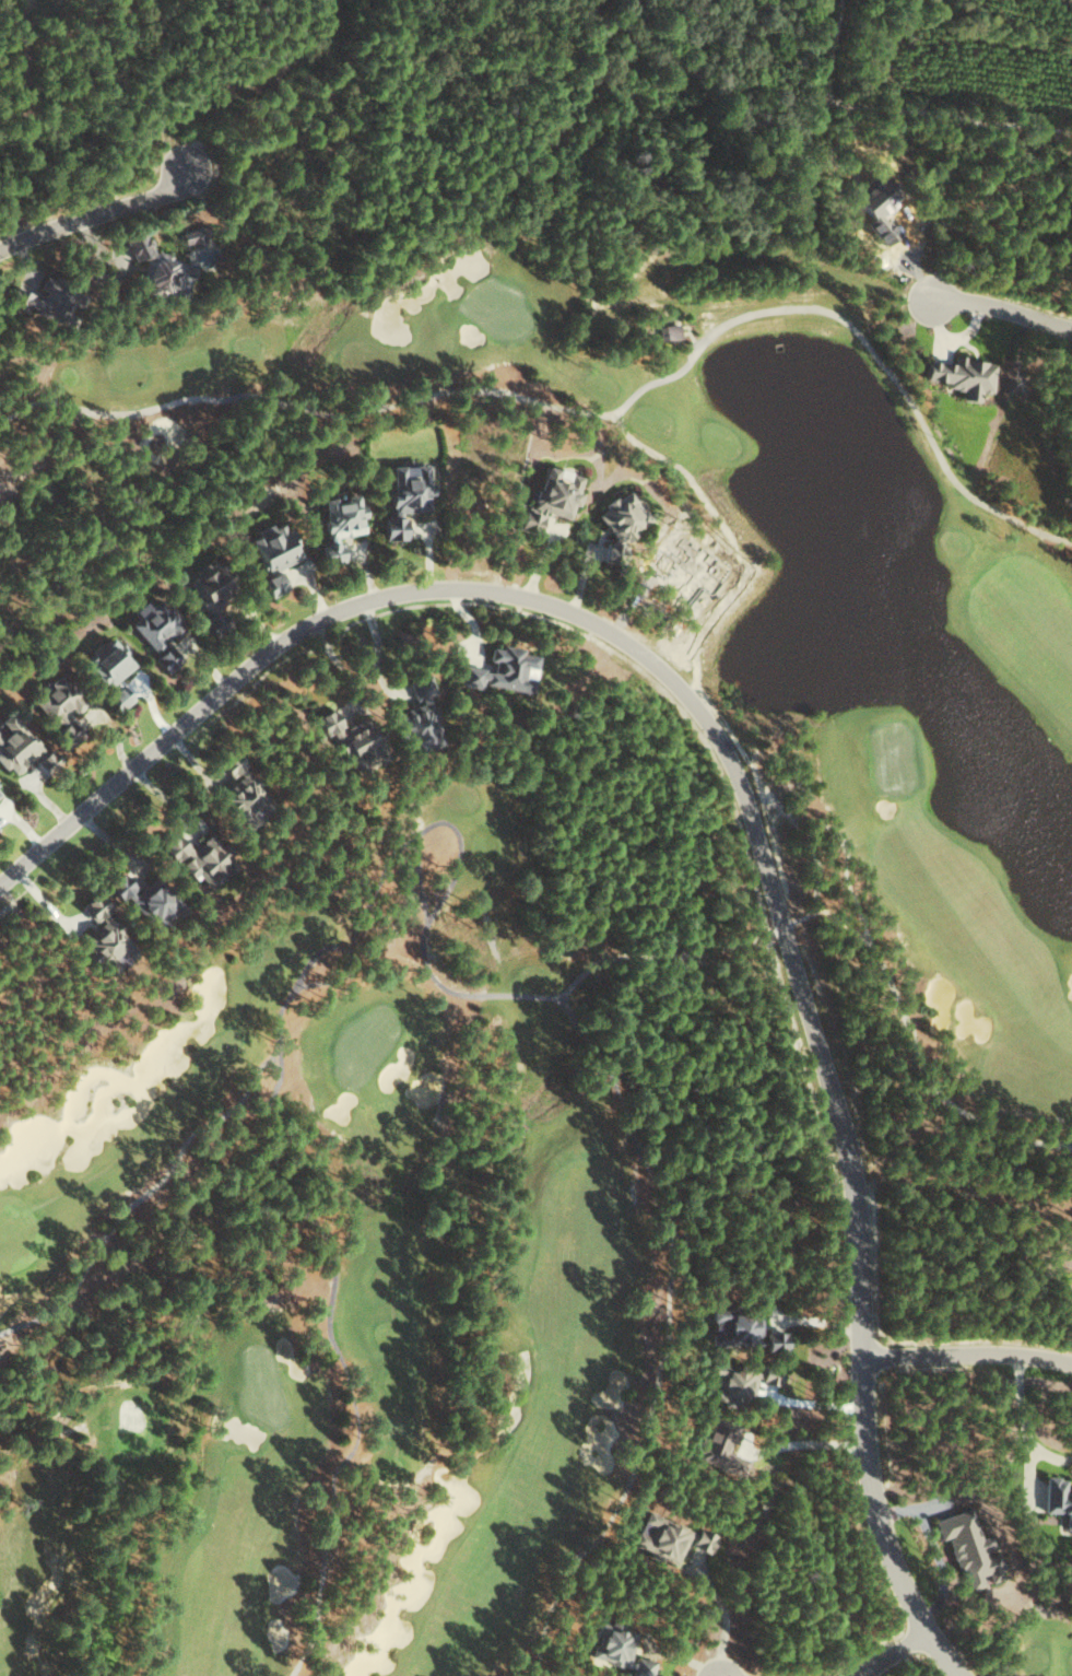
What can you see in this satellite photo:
road: (97, 215)
building: (195, 236)
building: (152, 266)
road: (1001, 309)
building: (669, 331)
building: (962, 375)
building: (404, 497)
building: (550, 497)
building: (620, 521)
building: (339, 524)
building: (272, 547)
building: (271, 585)
building: (208, 597)
building: (155, 630)
building: (109, 669)
building: (502, 670)
building: (57, 707)
building: (417, 719)
building: (350, 740)
building: (14, 746)
building: (46, 762)
building: (229, 763)
road: (739, 787)
building: (245, 800)
building: (200, 858)
building: (143, 900)
building: (104, 937)
park: (505, 971)
building: (734, 1326)
building: (774, 1340)
road: (965, 1353)
building: (769, 1373)
building: (729, 1382)
building: (718, 1445)
building: (1058, 1498)
building: (660, 1537)
building: (702, 1539)
building: (968, 1548)
park: (1039, 1643)
building: (619, 1648)
road: (891, 1655)

